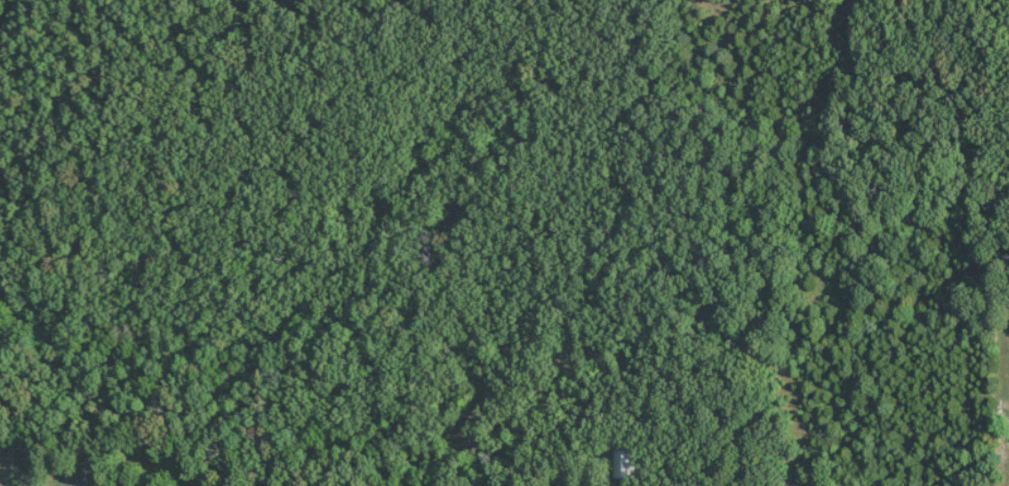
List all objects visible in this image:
building: (623, 462)

